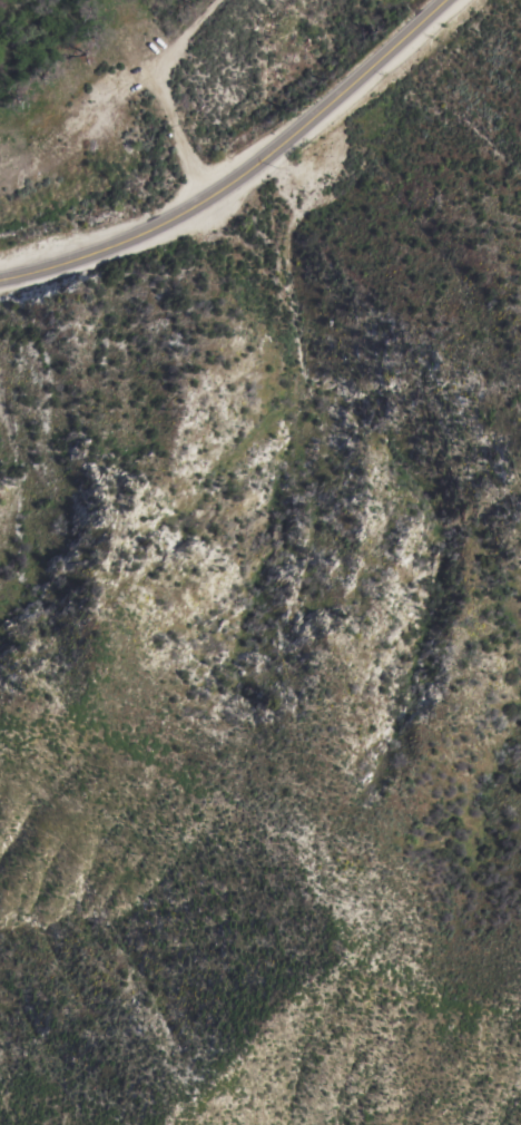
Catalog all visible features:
road: (244, 175)

